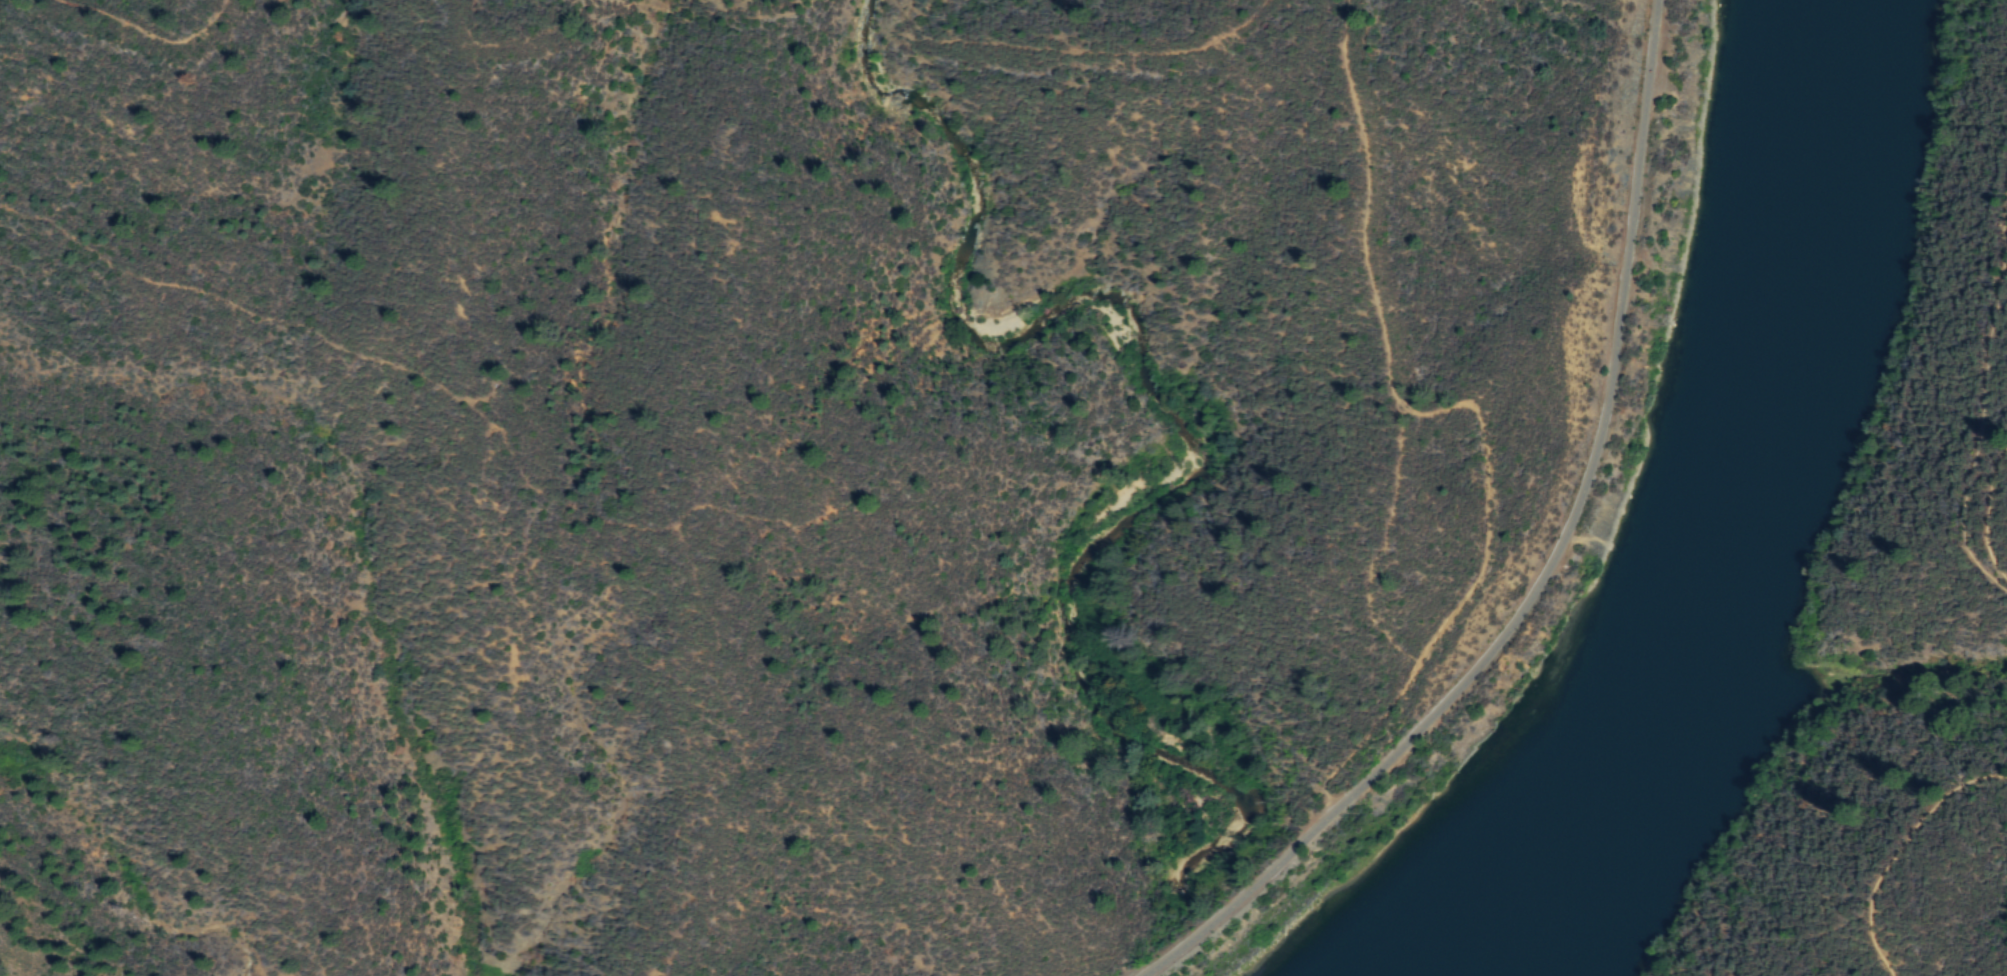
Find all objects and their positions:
road: (1984, 435)
river: (1726, 511)
road: (1991, 515)
road: (1548, 566)
road: (1902, 851)

